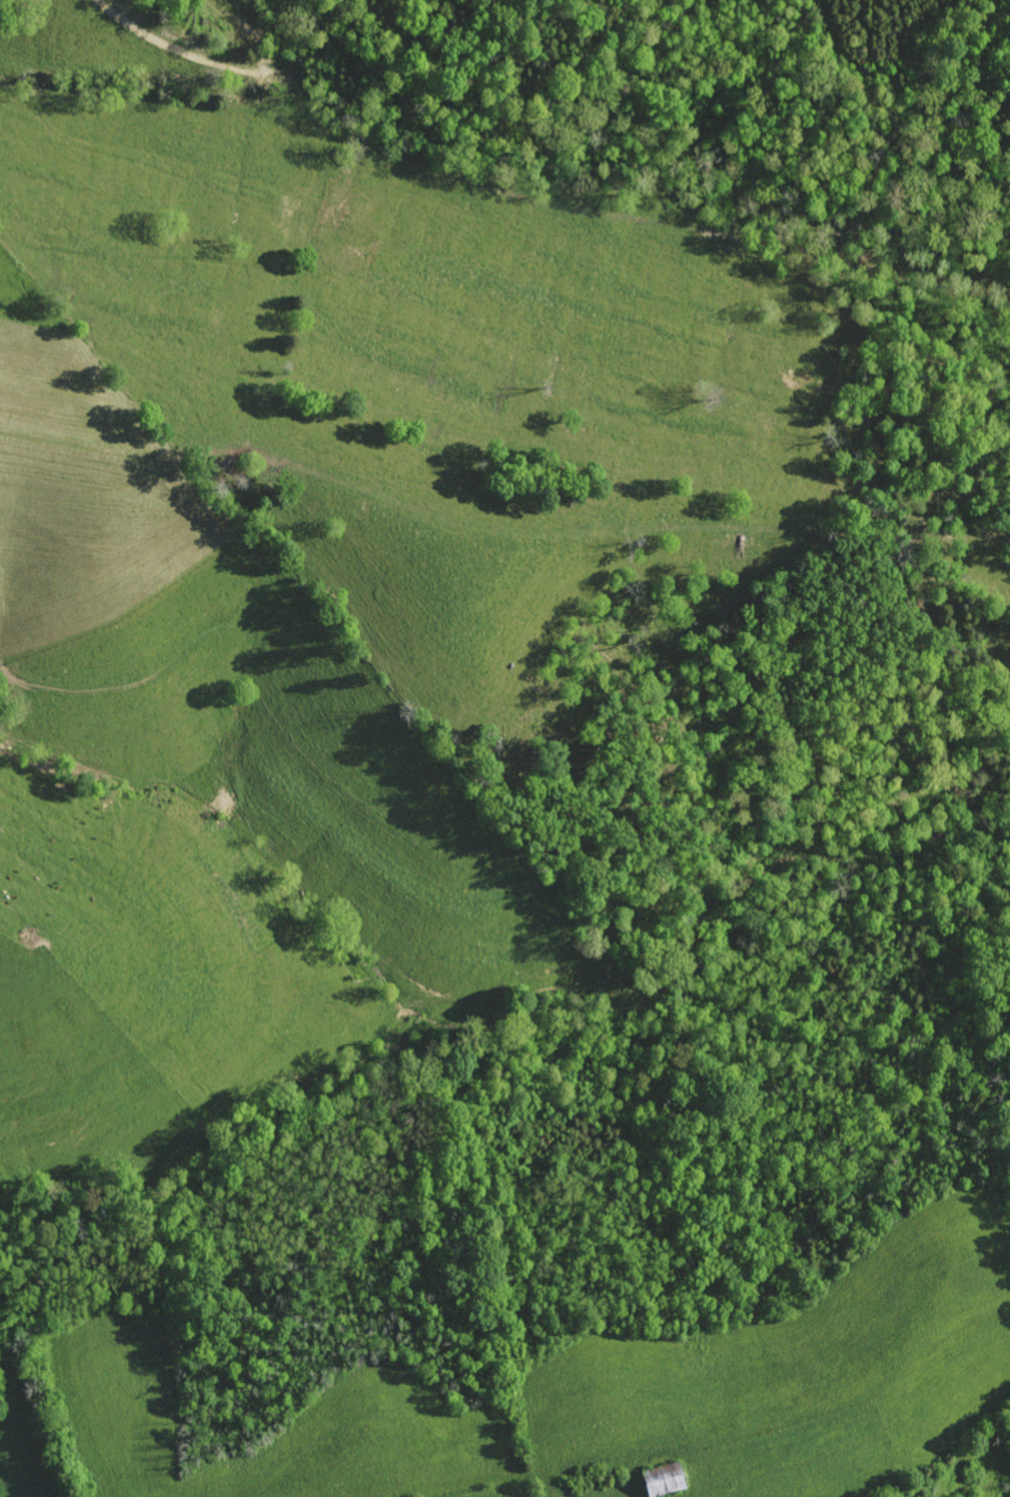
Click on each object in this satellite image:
building: (659, 1480)

